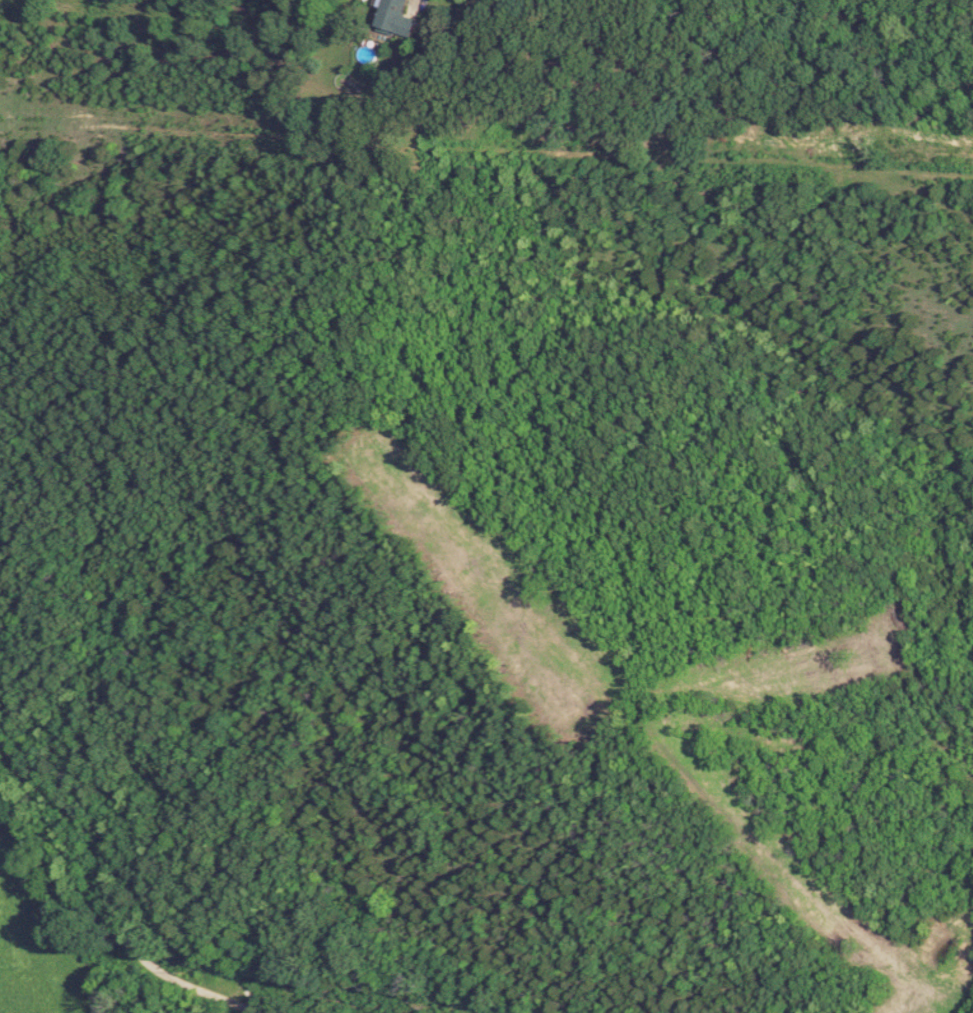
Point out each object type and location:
building: (400, 18)
road: (106, 907)

